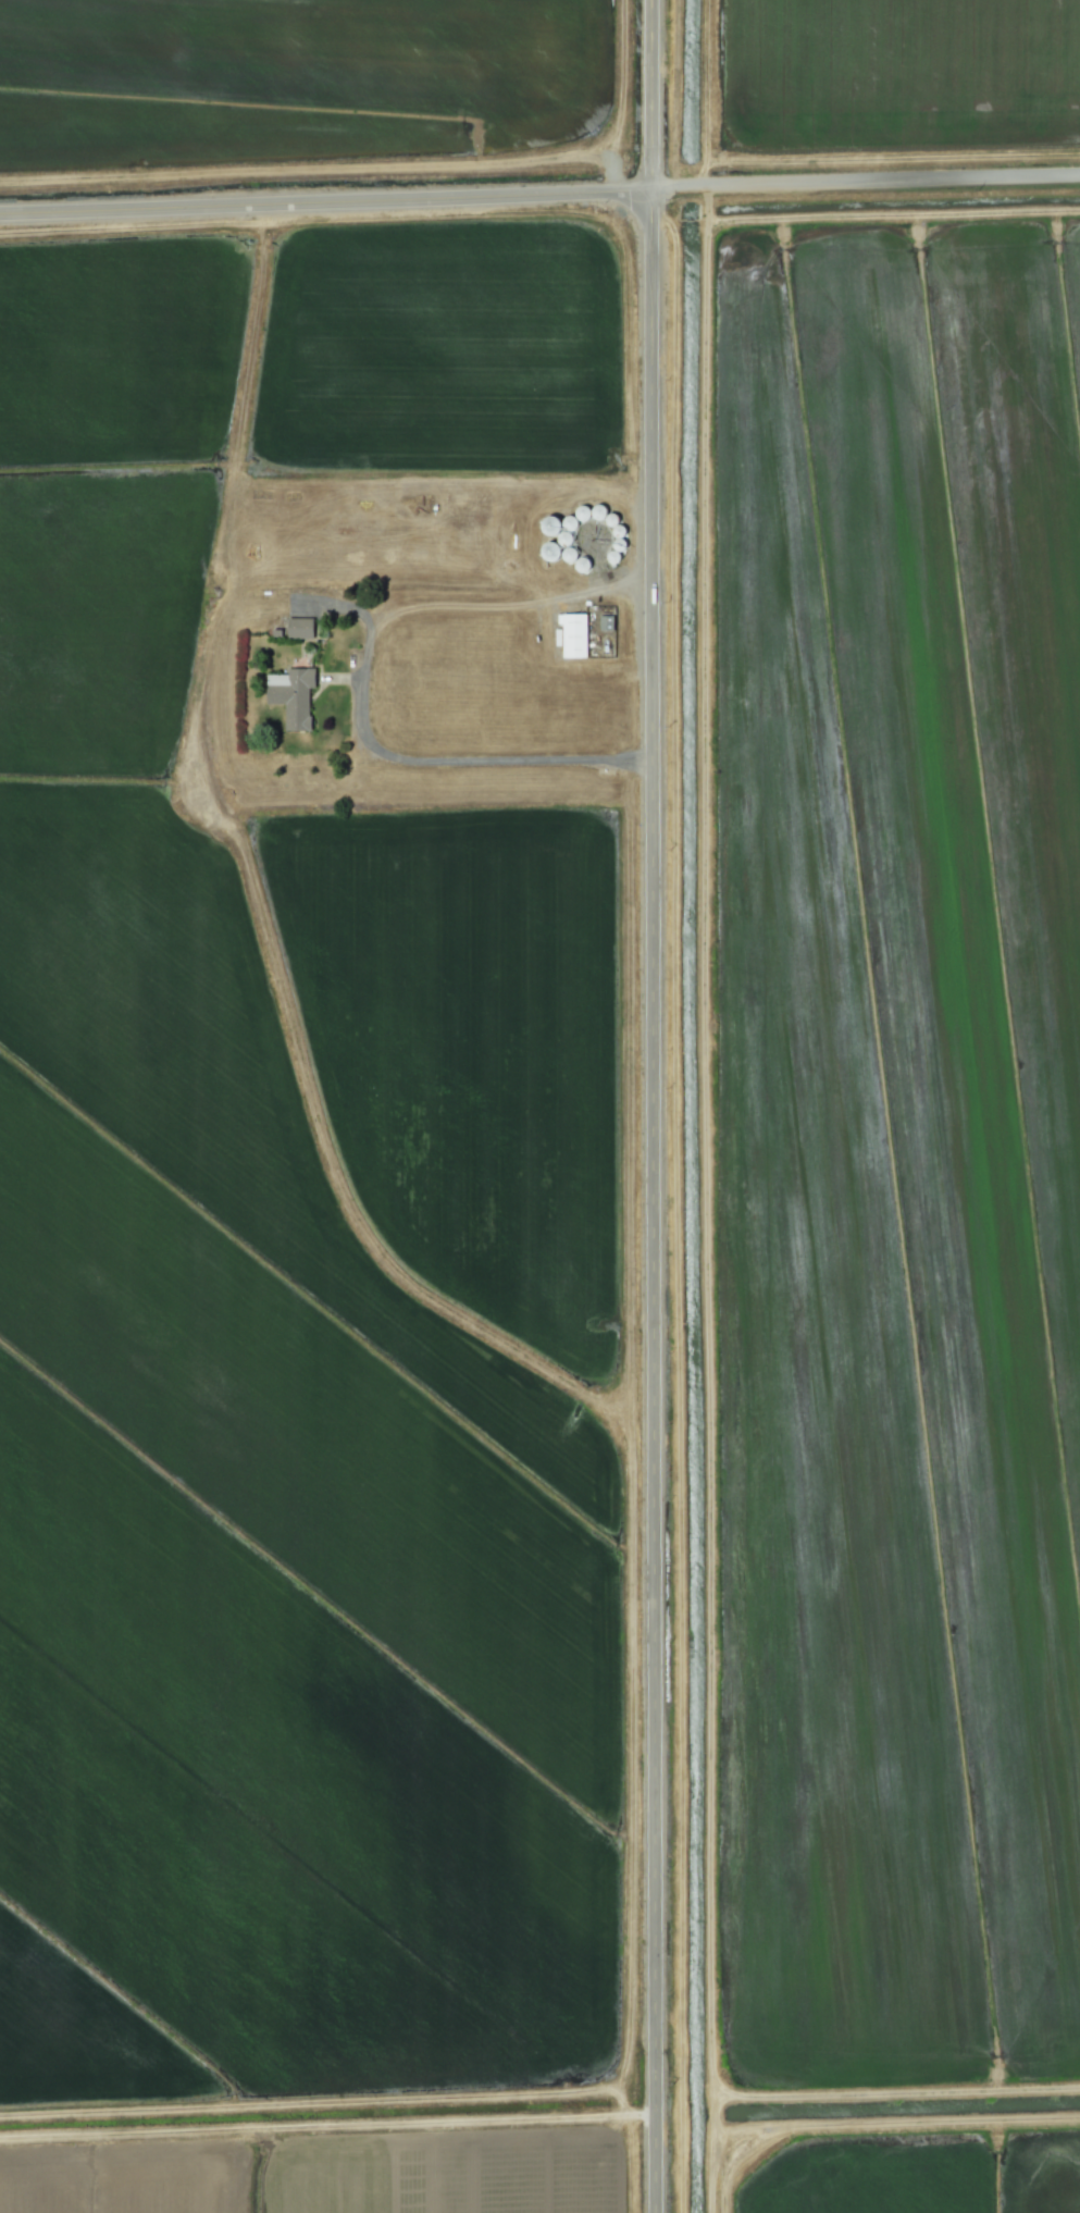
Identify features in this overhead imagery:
road: (864, 185)
road: (324, 201)
road: (506, 605)
building: (299, 628)
building: (573, 635)
building: (290, 695)
road: (408, 759)
road: (650, 1105)

